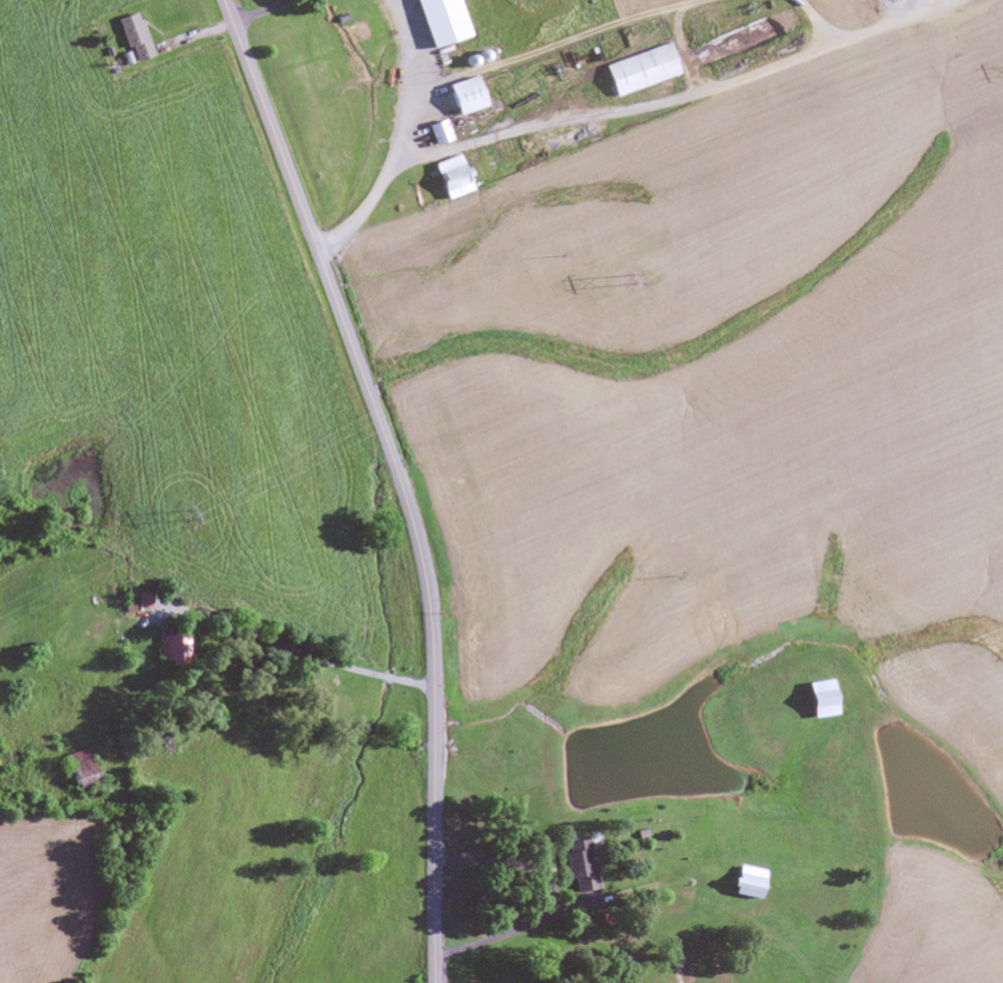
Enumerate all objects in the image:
building: (438, 20)
building: (134, 38)
building: (643, 66)
building: (469, 93)
building: (440, 131)
building: (448, 178)
road: (398, 478)
road: (296, 532)
building: (143, 601)
building: (172, 650)
building: (817, 700)
building: (79, 776)
building: (580, 866)
building: (745, 883)

